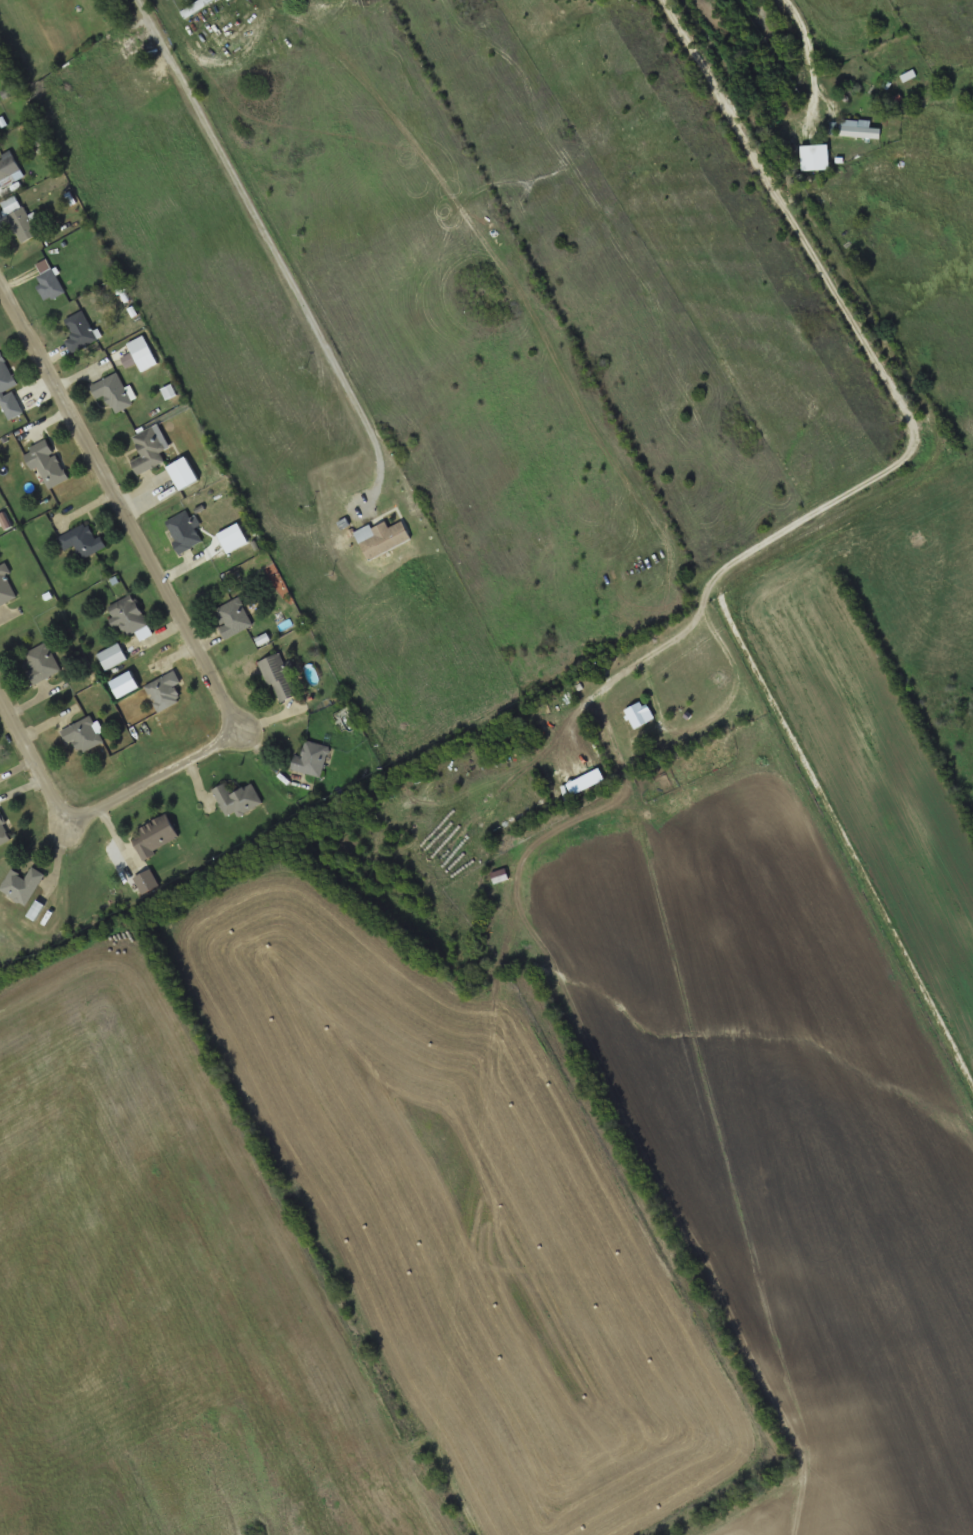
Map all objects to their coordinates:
building: (197, 7)
road: (815, 76)
building: (795, 125)
building: (860, 129)
building: (9, 166)
building: (20, 219)
building: (51, 284)
building: (81, 331)
road: (862, 336)
road: (889, 336)
building: (146, 358)
building: (9, 389)
building: (114, 391)
building: (151, 451)
building: (49, 463)
building: (185, 531)
building: (388, 539)
building: (83, 540)
building: (6, 587)
building: (129, 615)
building: (234, 617)
road: (751, 654)
building: (113, 656)
building: (43, 661)
road: (211, 667)
building: (280, 678)
building: (165, 691)
building: (638, 715)
building: (84, 734)
building: (312, 759)
building: (238, 799)
building: (4, 831)
building: (157, 834)
building: (147, 882)
building: (23, 885)

